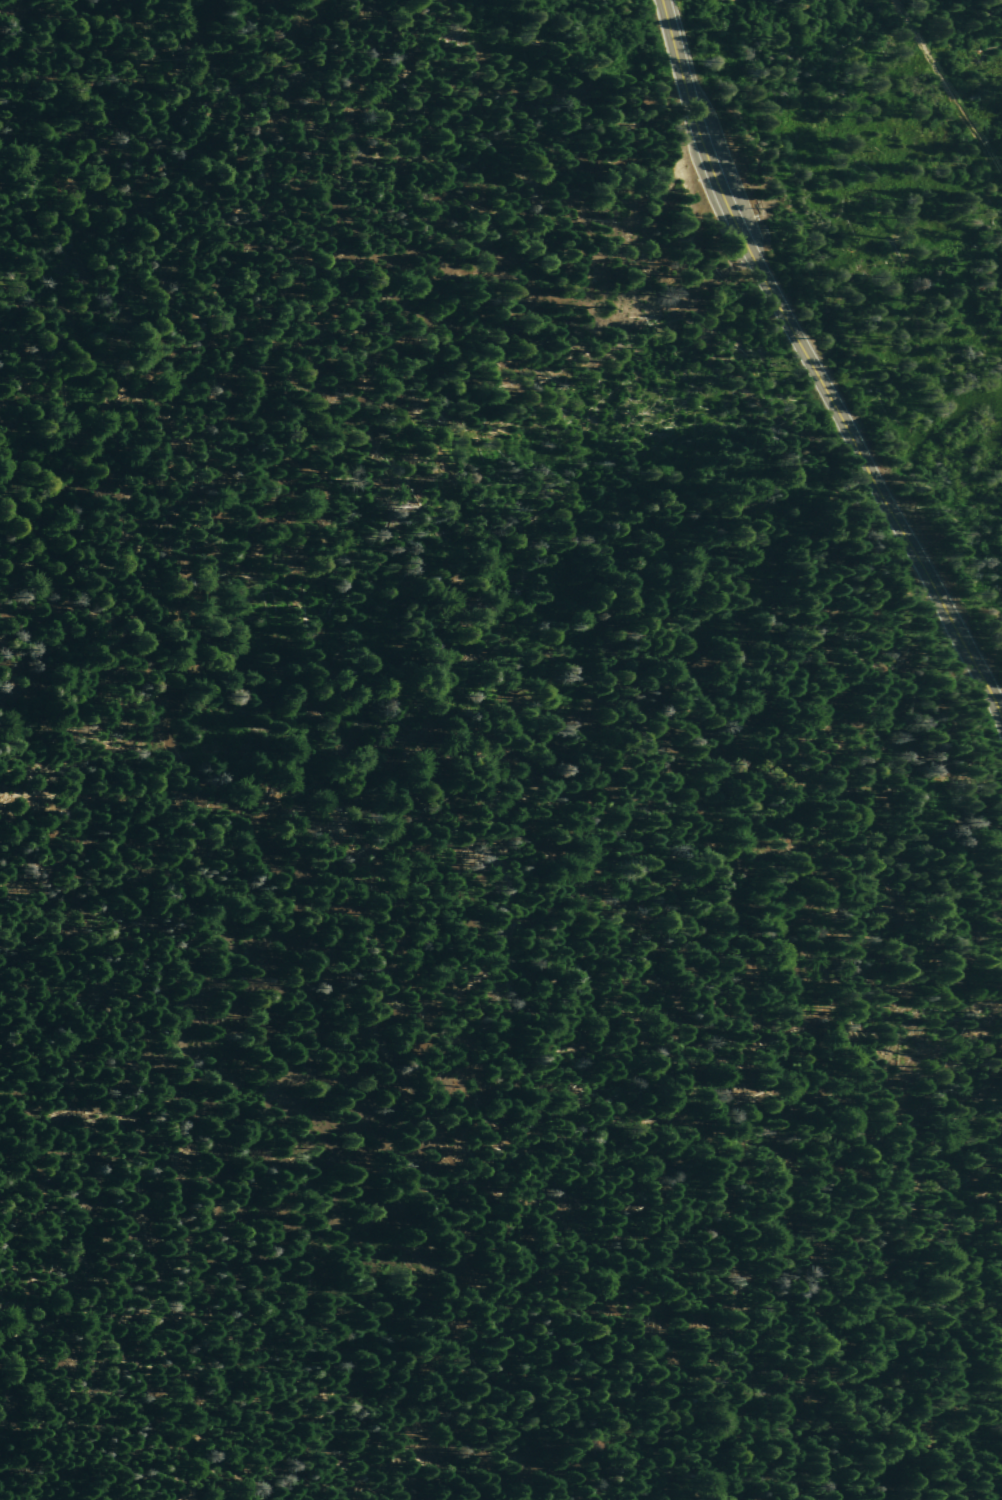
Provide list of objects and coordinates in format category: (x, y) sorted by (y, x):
road: (811, 365)

